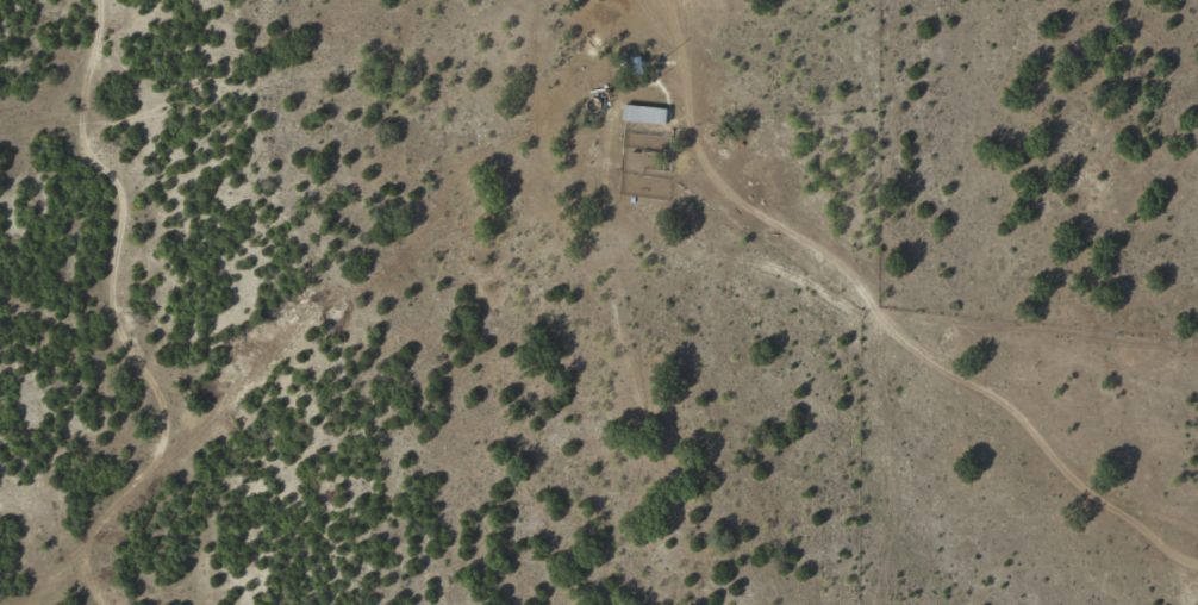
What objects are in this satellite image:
building: (648, 112)

